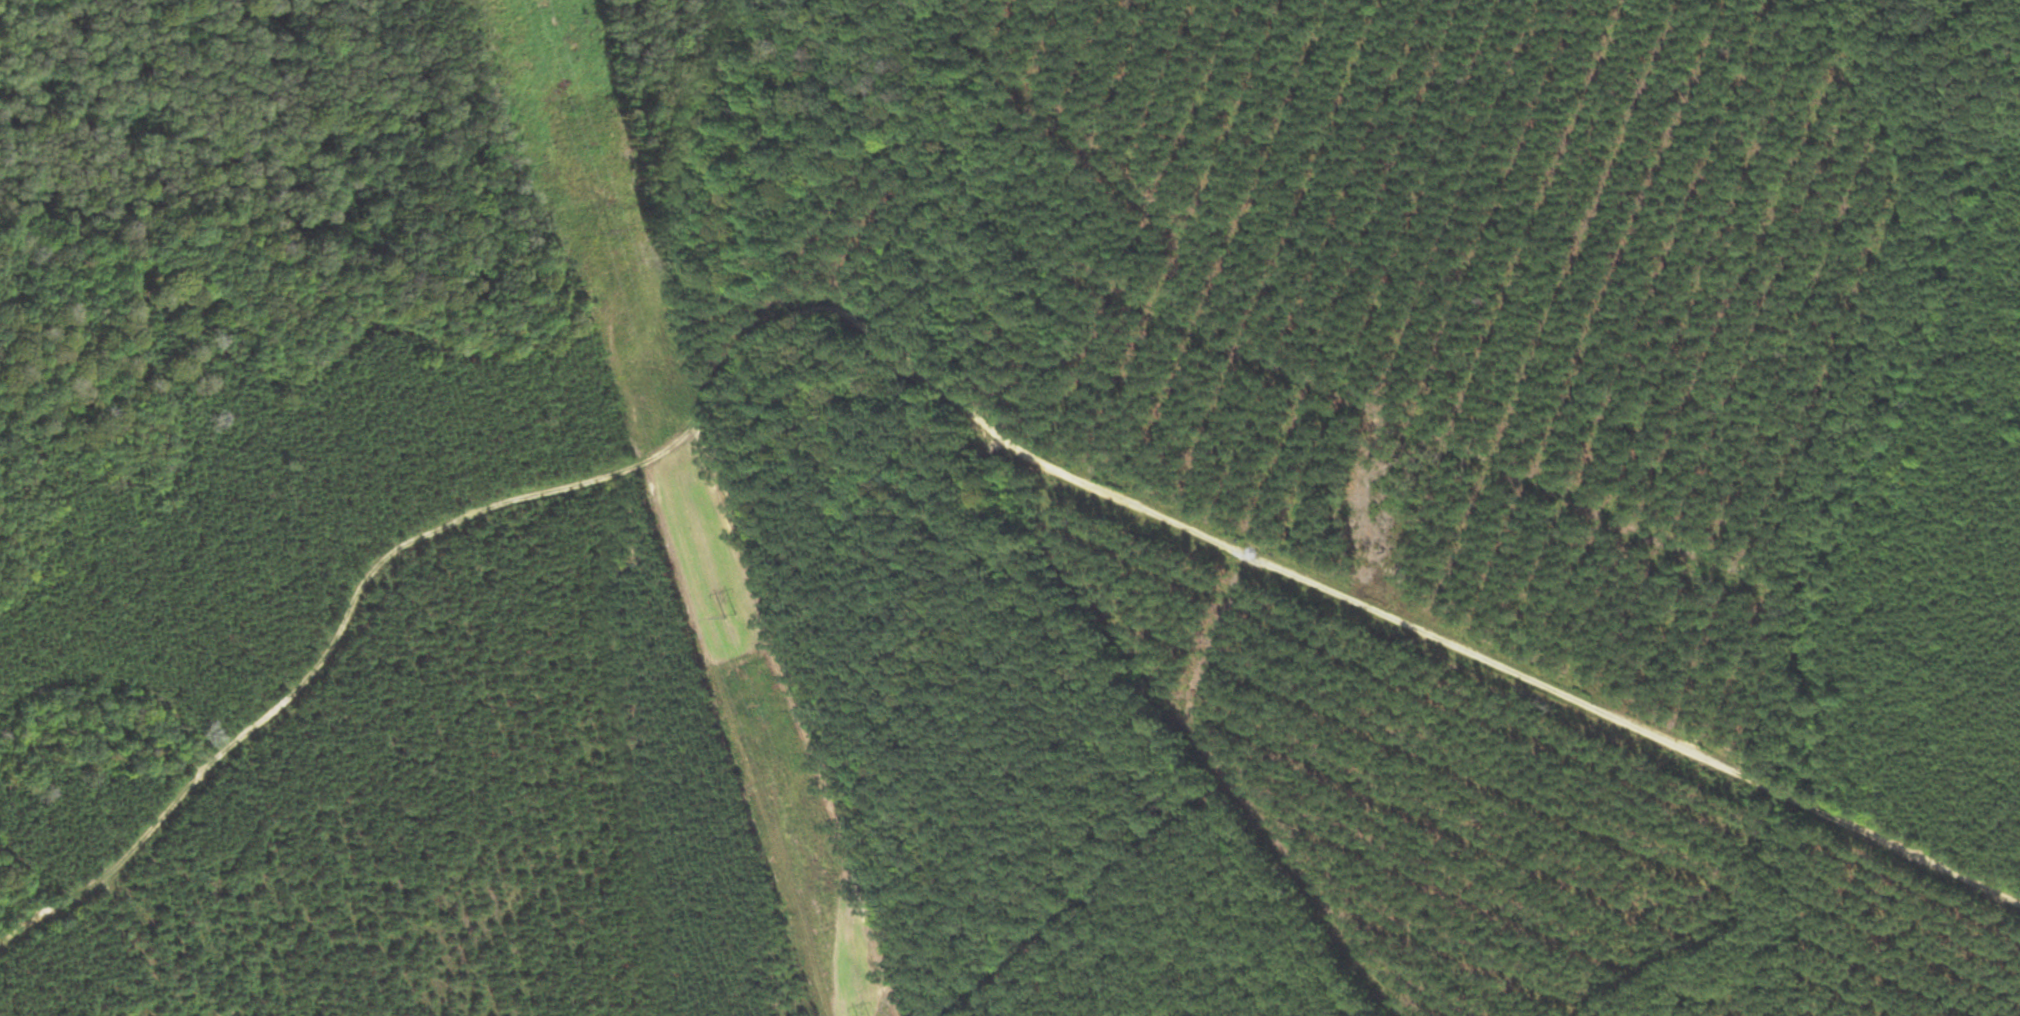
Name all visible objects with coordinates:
power tower: (727, 618)

